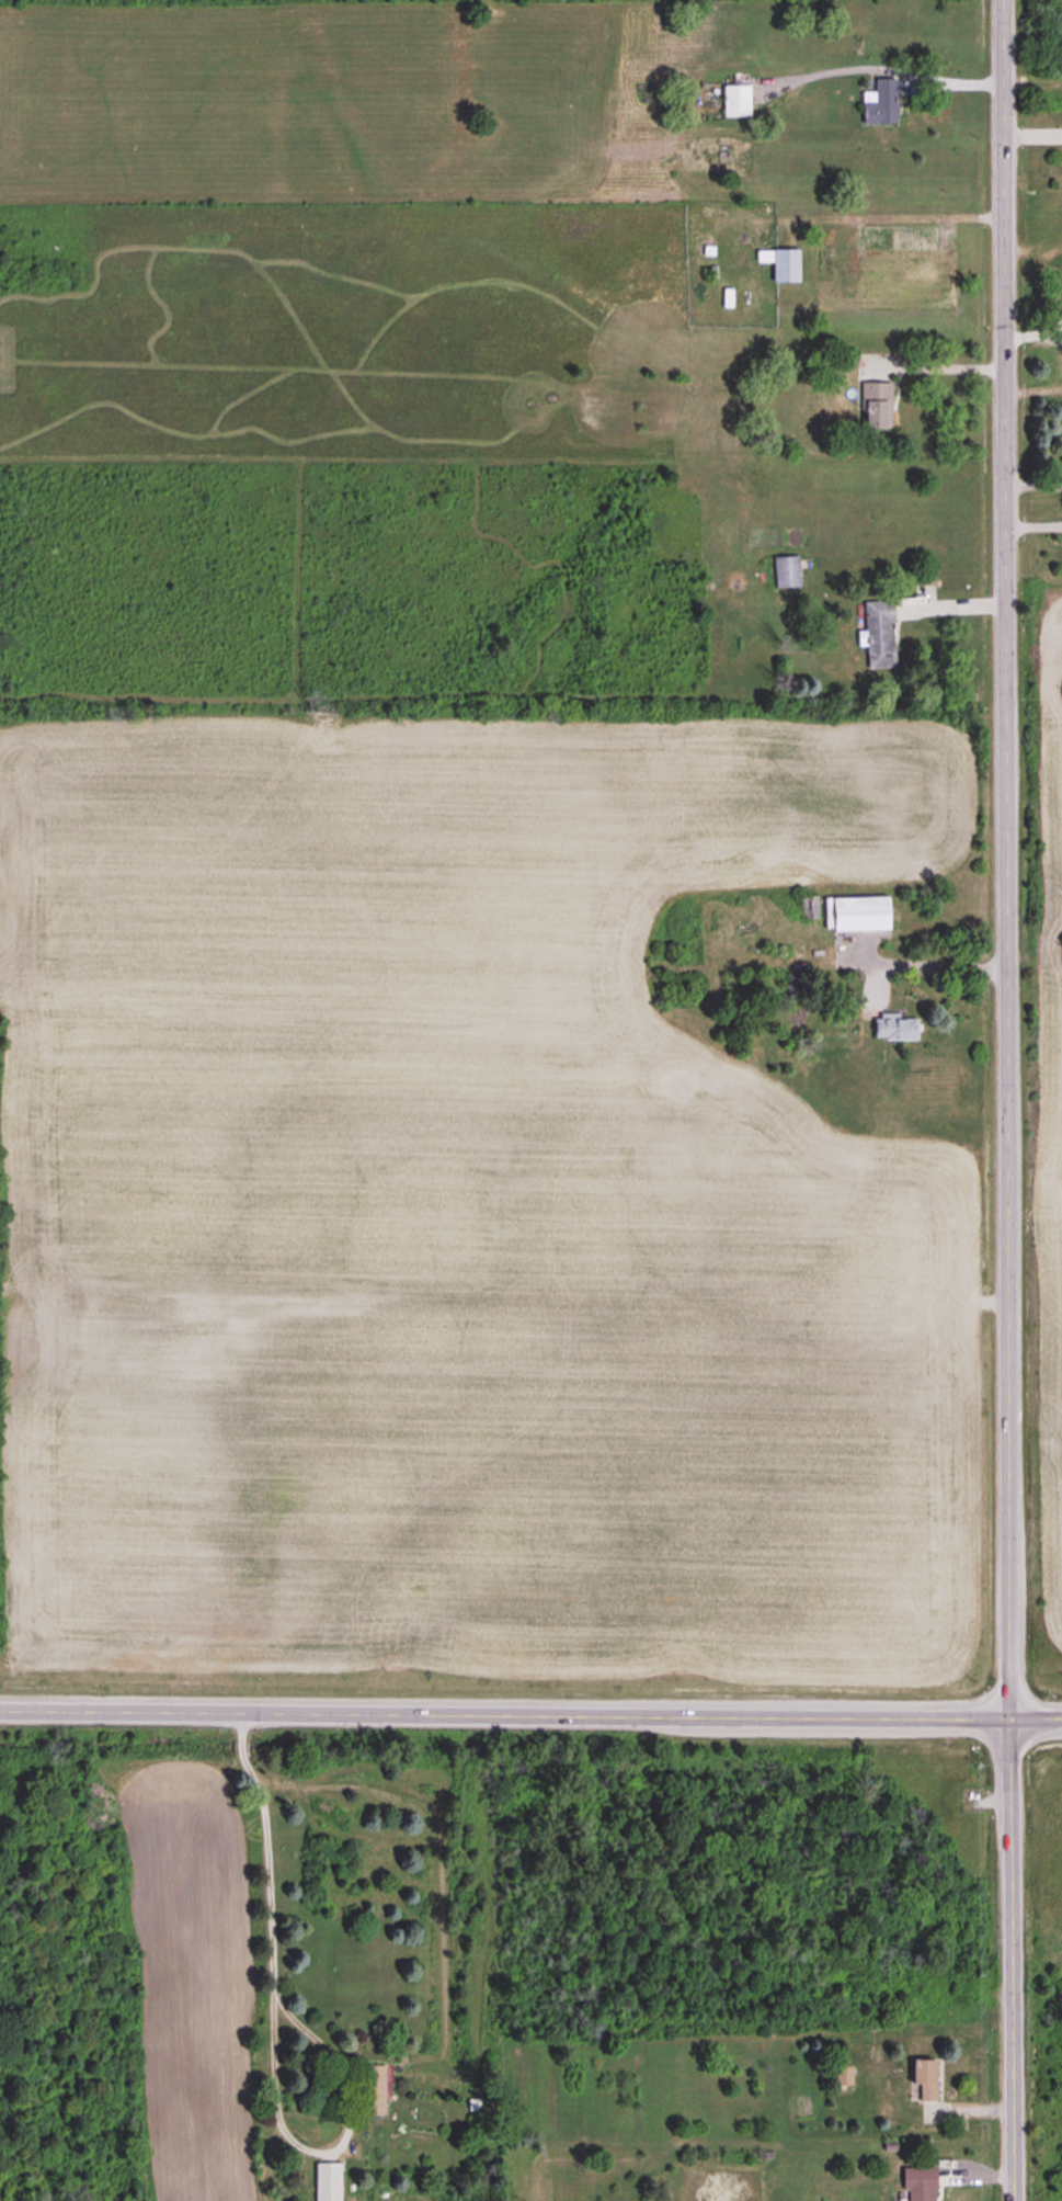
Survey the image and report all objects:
road: (939, 82)
building: (736, 101)
building: (880, 104)
road: (932, 216)
building: (780, 264)
road: (933, 366)
building: (876, 407)
road: (1034, 484)
building: (787, 572)
building: (879, 634)
building: (810, 908)
building: (859, 915)
road: (934, 963)
building: (894, 1031)
road: (1007, 1100)
road: (530, 1711)
road: (270, 2040)
building: (844, 2076)
building: (924, 2077)
building: (374, 2090)
building: (328, 2181)
building: (918, 2183)

